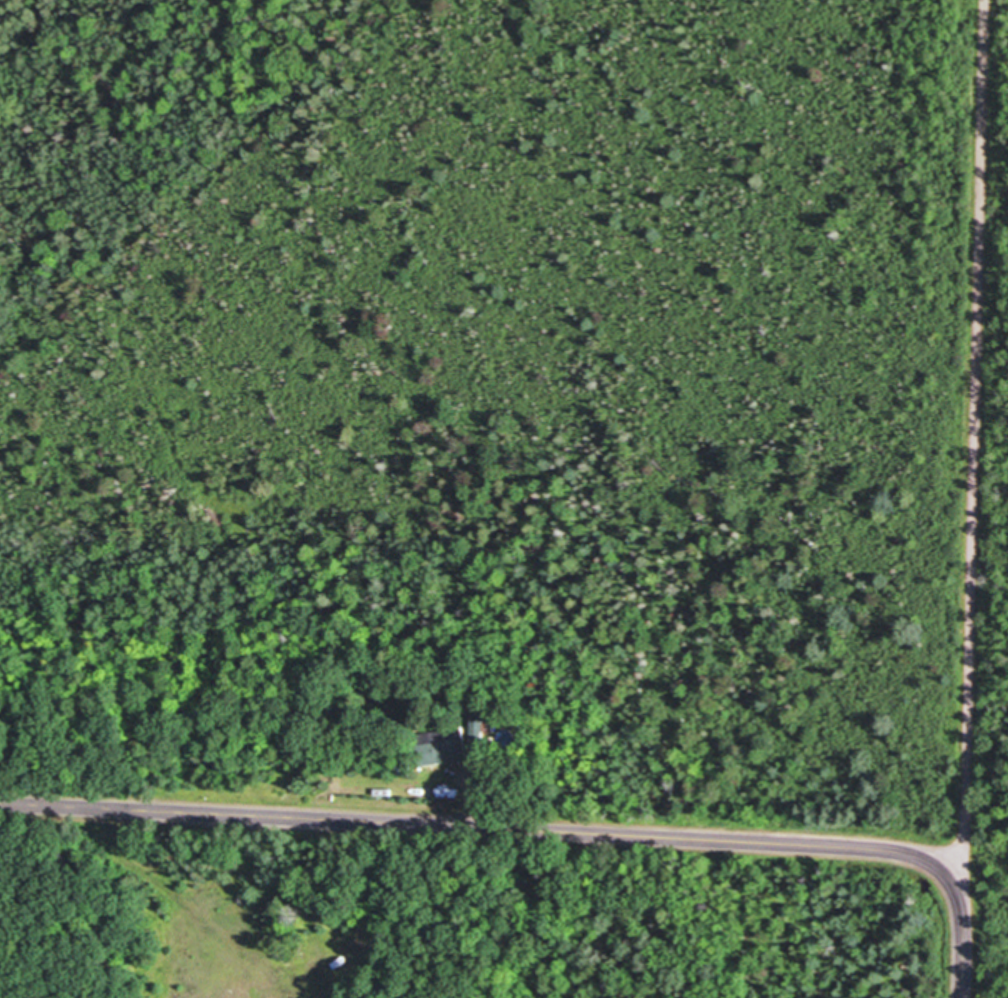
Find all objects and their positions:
road: (976, 453)
building: (480, 723)
building: (445, 753)
road: (495, 831)
road: (963, 952)

